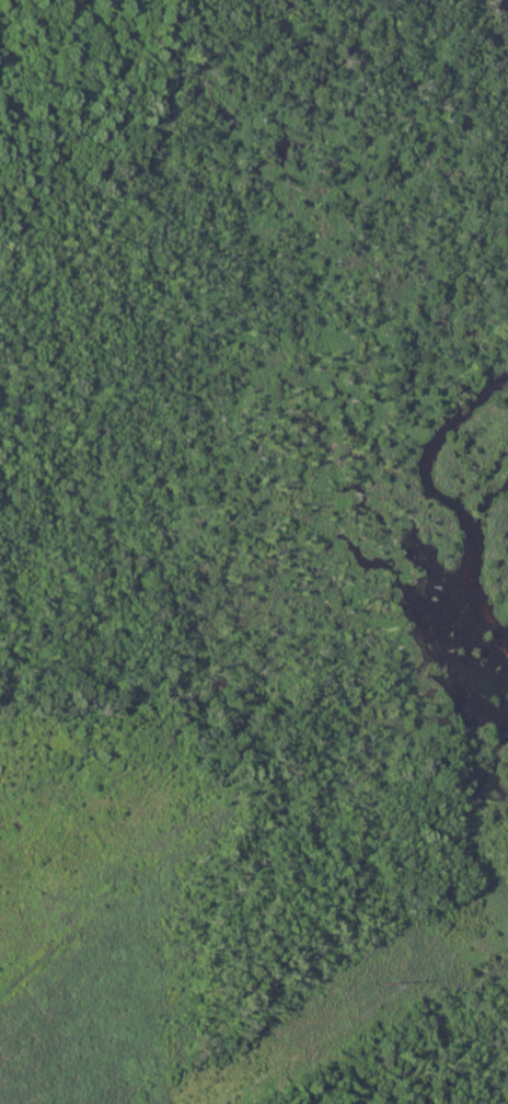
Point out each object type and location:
power tower: (389, 983)

